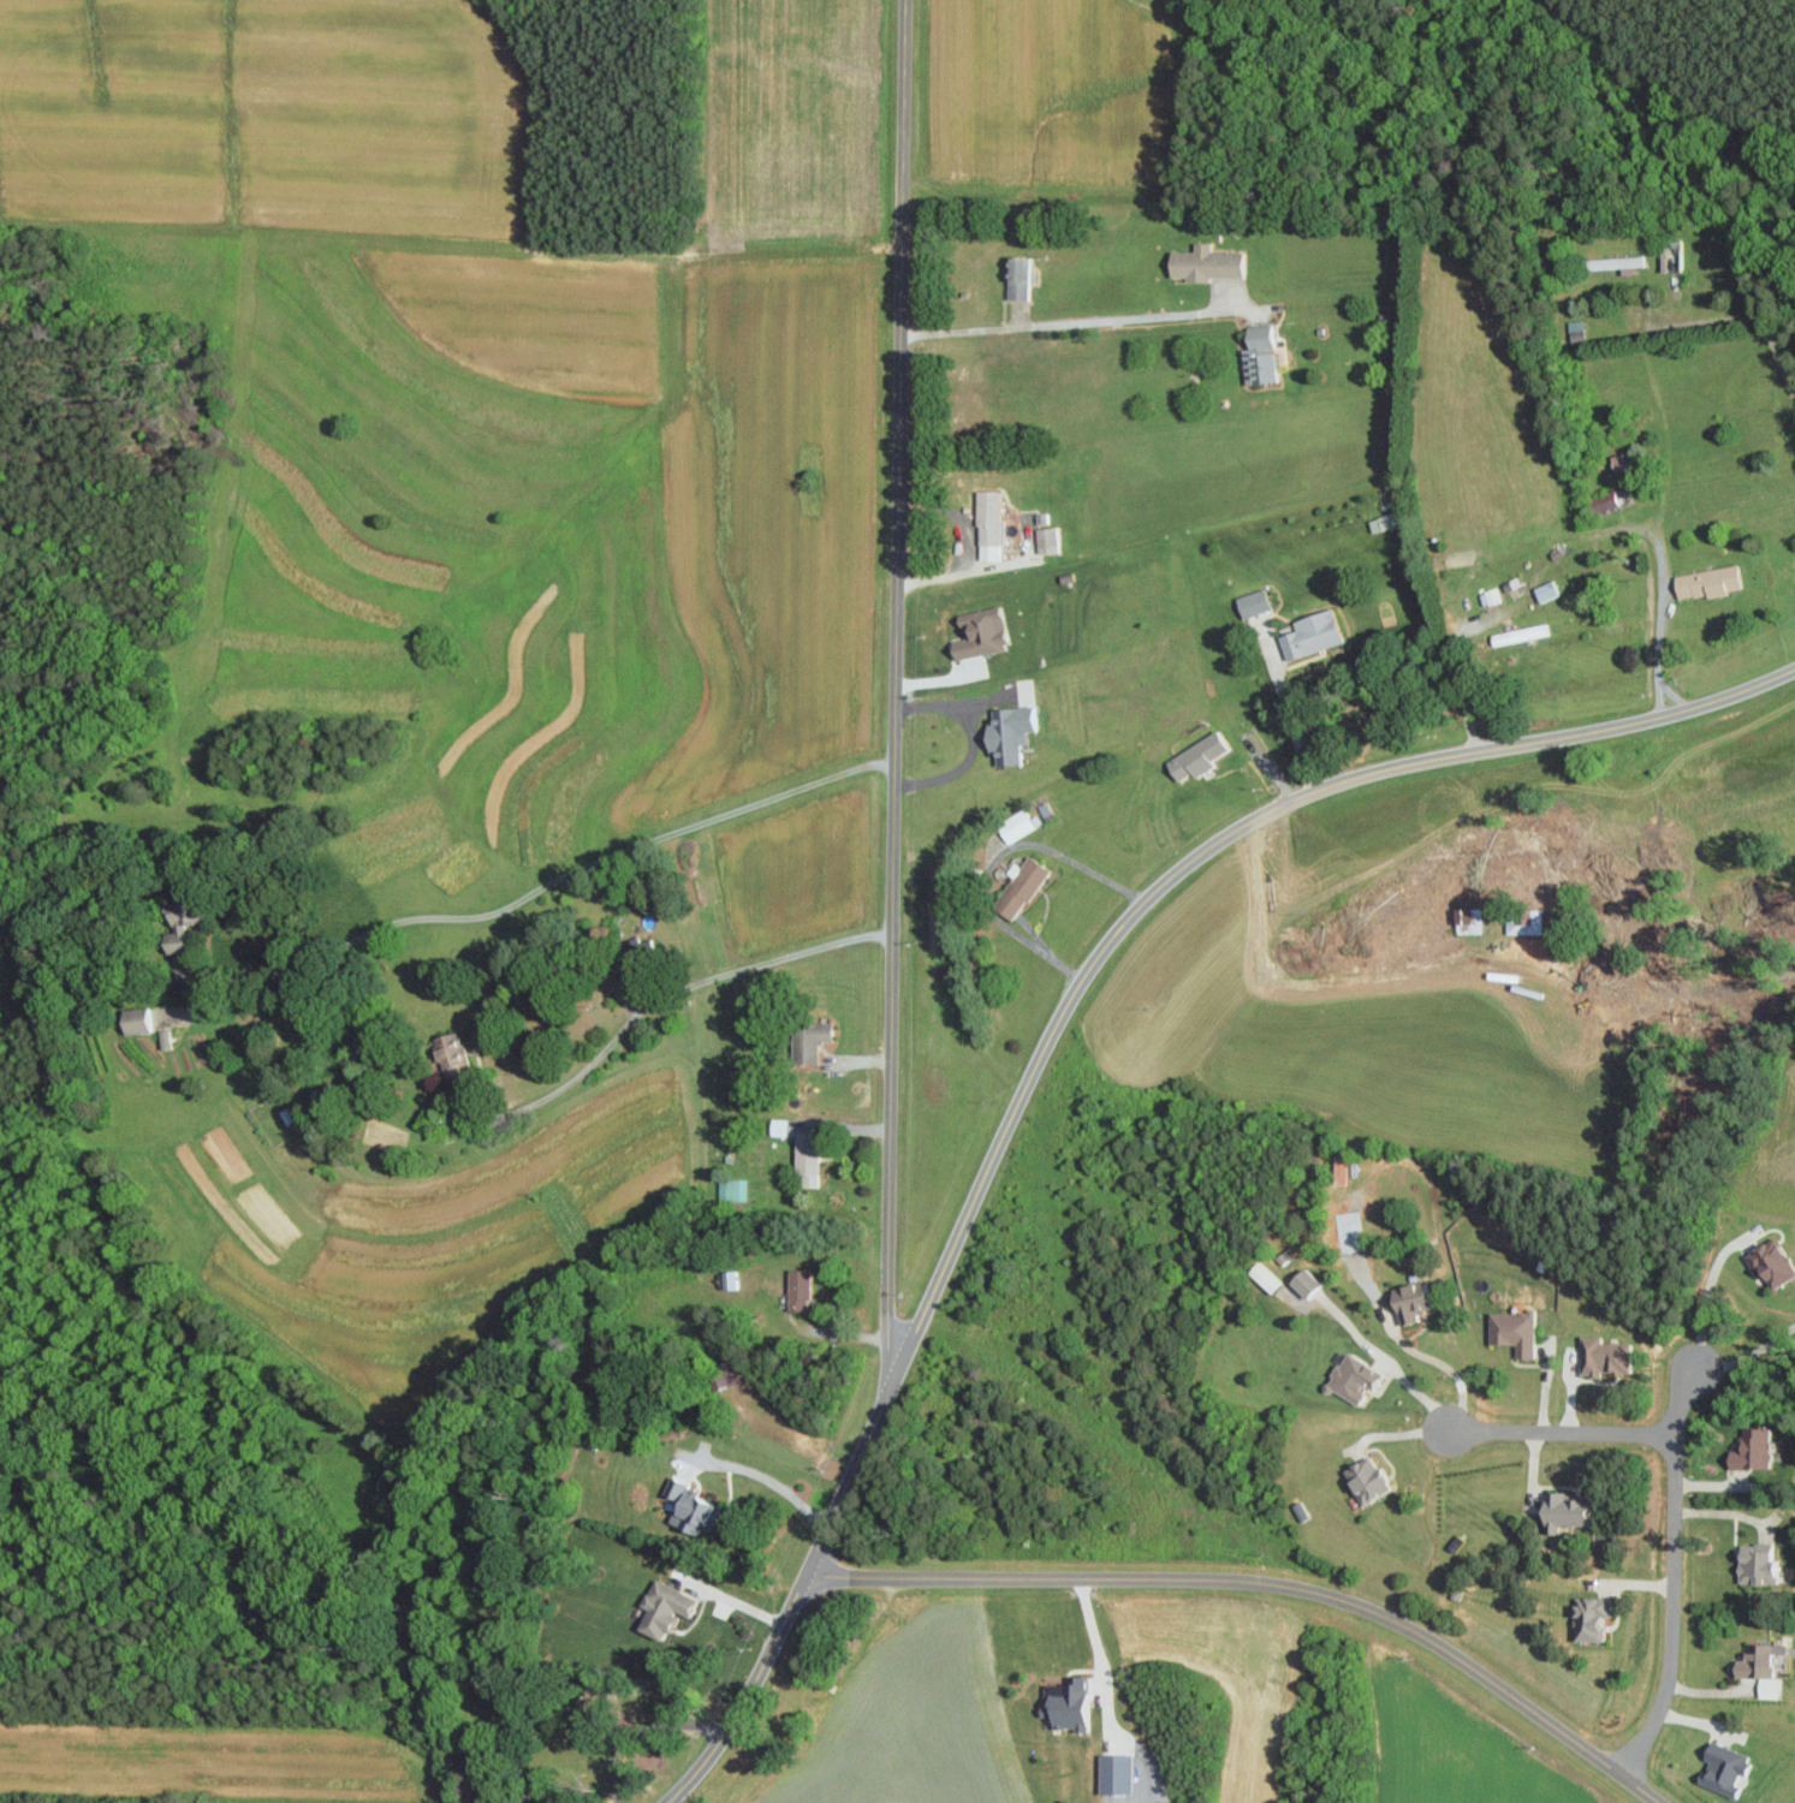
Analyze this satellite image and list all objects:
building: (1202, 262)
building: (1615, 262)
building: (1015, 276)
road: (1723, 320)
road: (1063, 323)
building: (1256, 357)
building: (1618, 460)
building: (1610, 501)
building: (1380, 522)
building: (987, 524)
building: (1045, 538)
road: (964, 572)
building: (1705, 582)
building: (1544, 590)
building: (1250, 602)
building: (1309, 632)
building: (1518, 633)
building: (977, 635)
road: (1658, 651)
road: (1454, 670)
road: (896, 679)
road: (1672, 694)
road: (1292, 728)
building: (1006, 731)
road: (969, 744)
building: (1194, 756)
building: (1015, 825)
road: (993, 859)
road: (541, 885)
building: (1017, 888)
building: (1522, 921)
building: (1469, 922)
building: (176, 928)
road: (1381, 972)
road: (635, 1016)
building: (132, 1020)
road: (1052, 1034)
building: (164, 1039)
building: (806, 1040)
building: (450, 1053)
building: (775, 1126)
road: (769, 1129)
building: (804, 1159)
building: (731, 1189)
building: (1339, 1239)
building: (1770, 1263)
building: (1261, 1277)
building: (1301, 1281)
building: (796, 1290)
road: (1701, 1292)
building: (1409, 1301)
building: (1510, 1332)
building: (1601, 1356)
road: (1745, 1356)
road: (1440, 1363)
building: (720, 1375)
building: (1349, 1377)
road: (1678, 1405)
building: (1749, 1450)
building: (1363, 1480)
road: (783, 1488)
road: (1675, 1501)
building: (685, 1507)
building: (1558, 1512)
road: (1730, 1513)
building: (1754, 1565)
road: (1265, 1582)
road: (729, 1599)
building: (659, 1609)
building: (1587, 1619)
road: (1096, 1659)
building: (1759, 1667)
building: (1065, 1706)
road: (1387, 1710)
building: (1720, 1768)

